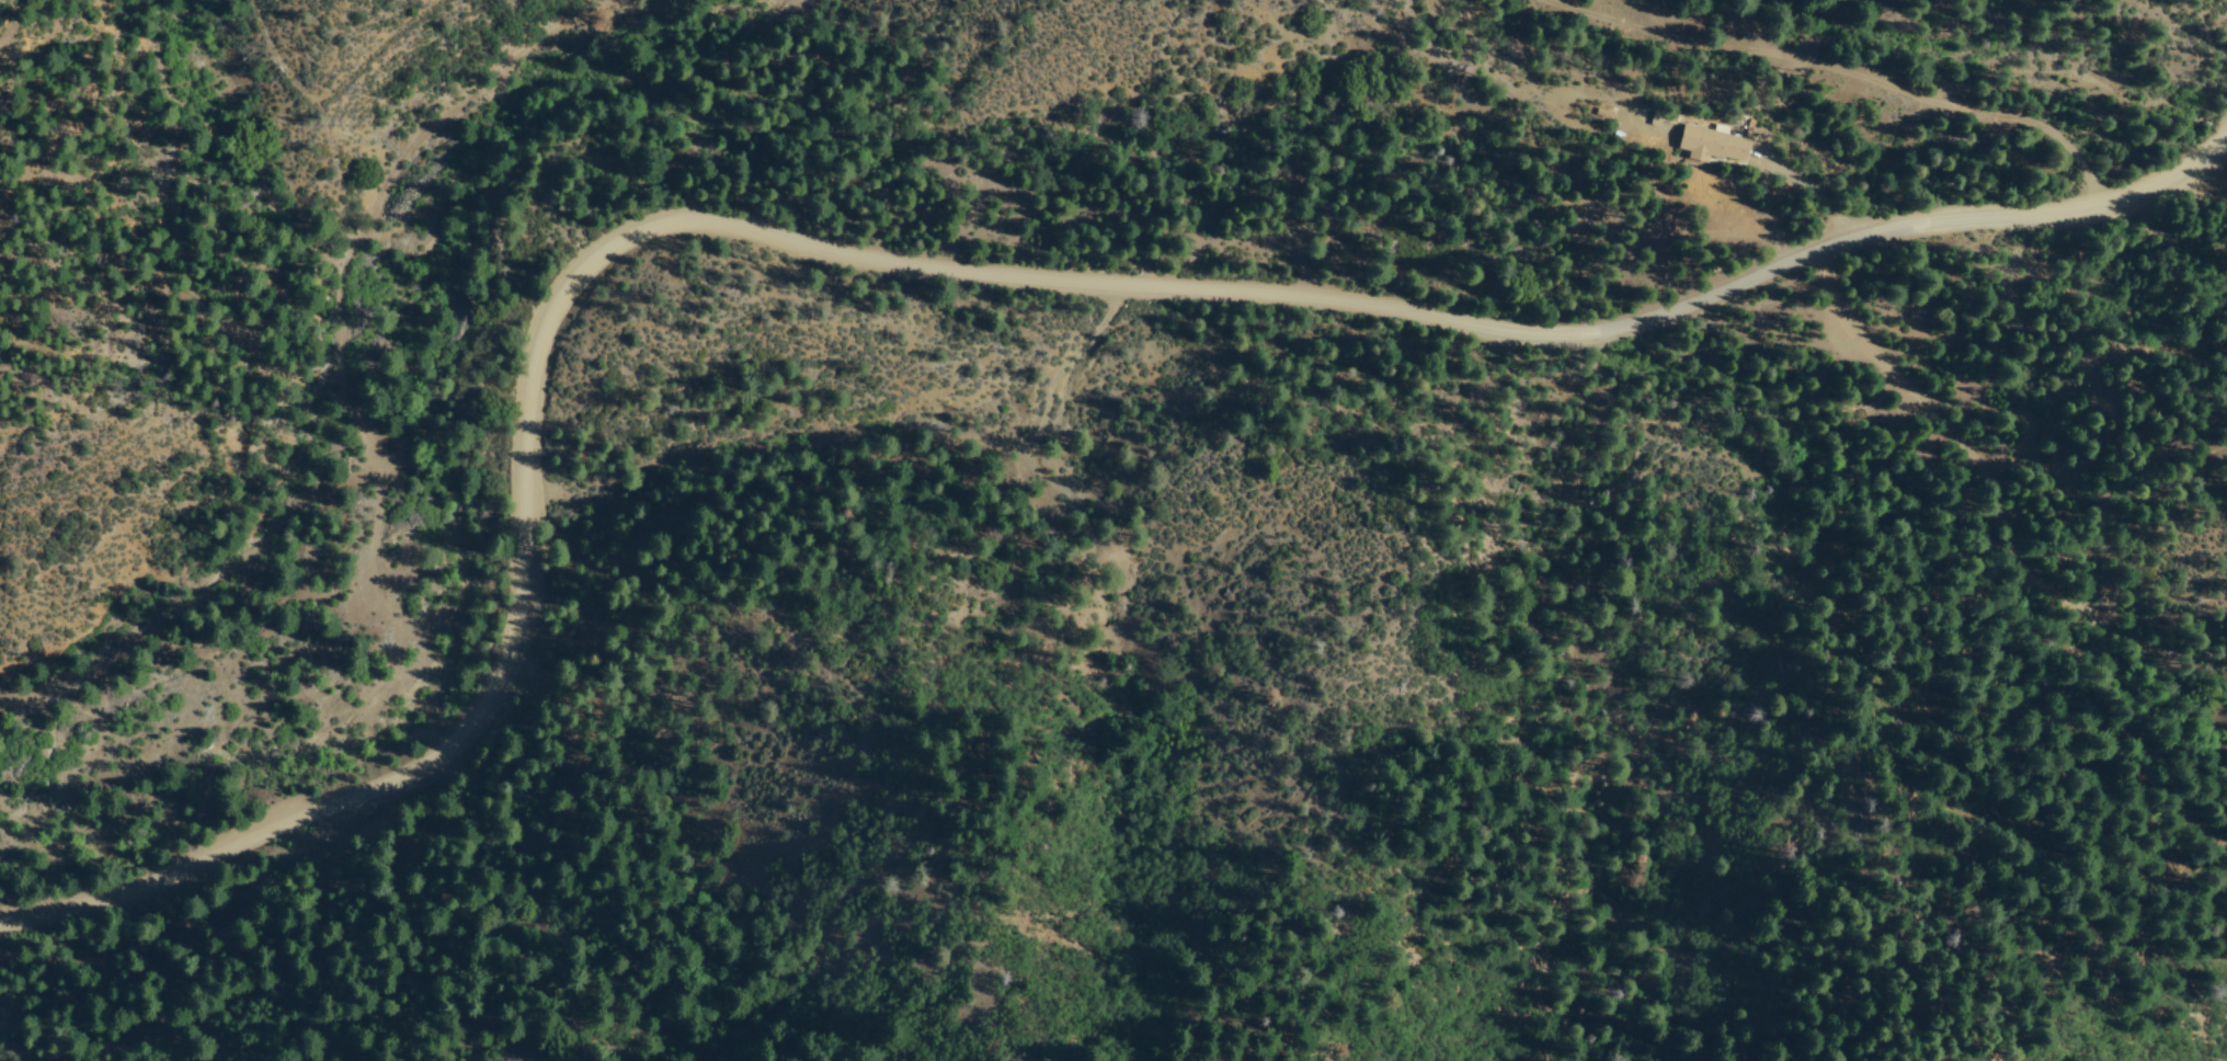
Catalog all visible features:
building: (1708, 145)
road: (921, 273)
road: (2013, 507)

